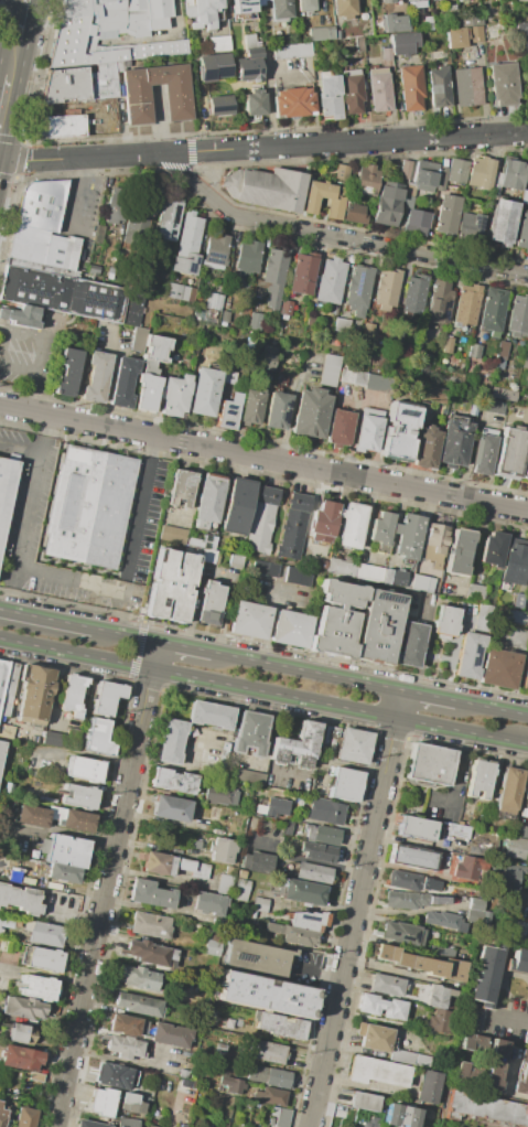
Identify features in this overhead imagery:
building: (387, 0)
building: (409, 0)
building: (517, 0)
building: (305, 6)
building: (72, 8)
building: (278, 8)
building: (343, 8)
building: (243, 10)
building: (416, 11)
building: (158, 13)
building: (203, 13)
building: (452, 15)
building: (527, 15)
road: (21, 18)
building: (108, 18)
building: (137, 18)
building: (470, 20)
building: (428, 21)
building: (394, 22)
building: (321, 33)
building: (521, 33)
building: (463, 35)
building: (71, 42)
building: (217, 43)
building: (403, 43)
building: (138, 51)
building: (292, 51)
building: (386, 54)
road: (13, 55)
building: (214, 66)
building: (249, 68)
building: (103, 80)
building: (504, 83)
building: (64, 86)
building: (439, 86)
building: (411, 87)
building: (467, 87)
road: (266, 89)
building: (379, 89)
building: (352, 90)
building: (328, 97)
road: (4, 98)
building: (294, 101)
building: (176, 103)
building: (254, 103)
building: (219, 105)
building: (58, 127)
road: (263, 148)
building: (403, 170)
building: (456, 170)
building: (341, 172)
building: (479, 173)
building: (508, 175)
building: (440, 178)
building: (365, 180)
building: (420, 180)
building: (527, 183)
building: (265, 189)
road: (77, 195)
building: (524, 196)
building: (333, 203)
building: (387, 204)
building: (116, 208)
building: (354, 213)
building: (446, 214)
building: (166, 221)
building: (414, 222)
building: (500, 222)
building: (137, 224)
building: (468, 229)
building: (41, 230)
building: (522, 232)
building: (98, 234)
road: (335, 236)
building: (108, 240)
building: (187, 244)
building: (215, 251)
building: (247, 260)
building: (91, 269)
building: (302, 273)
building: (273, 276)
building: (330, 281)
building: (386, 289)
building: (357, 290)
building: (179, 292)
building: (413, 294)
building: (65, 298)
building: (214, 301)
building: (439, 302)
building: (465, 304)
building: (285, 309)
building: (165, 311)
building: (492, 311)
building: (518, 316)
building: (224, 318)
building: (254, 321)
building: (231, 322)
building: (341, 326)
building: (166, 328)
building: (367, 329)
building: (461, 331)
road: (34, 333)
building: (394, 342)
building: (446, 345)
building: (473, 351)
building: (154, 353)
building: (500, 354)
building: (267, 359)
building: (526, 363)
building: (510, 365)
road: (19, 368)
building: (330, 369)
building: (67, 372)
building: (96, 377)
building: (228, 377)
building: (351, 377)
building: (122, 383)
building: (379, 384)
road: (33, 391)
building: (146, 391)
building: (203, 393)
building: (434, 394)
building: (503, 394)
building: (173, 396)
road: (357, 398)
road: (288, 405)
building: (489, 405)
building: (250, 407)
building: (277, 410)
building: (472, 411)
building: (310, 412)
building: (226, 415)
building: (338, 428)
building: (398, 431)
building: (366, 433)
road: (349, 436)
building: (454, 442)
road: (20, 446)
building: (425, 447)
building: (510, 451)
building: (482, 454)
road: (263, 458)
building: (526, 468)
building: (181, 486)
building: (7, 493)
road: (191, 495)
building: (207, 500)
building: (236, 505)
building: (89, 507)
parking lot: (147, 512)
road: (28, 513)
building: (261, 519)
building: (322, 522)
building: (351, 525)
building: (293, 526)
building: (395, 528)
building: (380, 530)
road: (363, 533)
road: (137, 535)
building: (172, 535)
building: (408, 536)
building: (202, 541)
building: (434, 546)
building: (492, 549)
building: (457, 551)
road: (468, 555)
building: (214, 558)
building: (235, 561)
building: (514, 562)
building: (340, 568)
building: (263, 569)
road: (215, 570)
building: (371, 572)
building: (297, 577)
building: (481, 577)
building: (395, 578)
road: (71, 580)
building: (422, 583)
building: (170, 586)
building: (527, 587)
road: (276, 590)
building: (474, 593)
road: (527, 595)
building: (518, 600)
building: (209, 604)
building: (496, 616)
road: (46, 619)
building: (334, 619)
building: (249, 620)
building: (445, 622)
road: (267, 625)
building: (378, 626)
building: (290, 629)
road: (125, 635)
road: (422, 638)
building: (409, 644)
road: (184, 646)
road: (136, 652)
road: (155, 655)
building: (467, 656)
building: (527, 657)
road: (518, 659)
building: (499, 669)
road: (305, 670)
building: (2, 675)
building: (525, 676)
road: (262, 691)
building: (35, 693)
building: (72, 695)
road: (428, 696)
building: (106, 697)
road: (399, 705)
road: (491, 708)
building: (209, 715)
building: (6, 731)
building: (250, 732)
building: (73, 736)
building: (98, 737)
building: (52, 738)
building: (35, 739)
road: (197, 739)
building: (330, 739)
building: (171, 741)
road: (527, 744)
building: (294, 747)
building: (353, 747)
building: (2, 751)
road: (93, 755)
building: (15, 759)
road: (311, 761)
road: (342, 762)
building: (429, 764)
road: (460, 766)
building: (85, 769)
building: (250, 777)
building: (478, 779)
building: (172, 781)
building: (345, 784)
building: (507, 790)
building: (220, 795)
building: (79, 796)
building: (45, 799)
building: (527, 804)
building: (272, 807)
building: (170, 808)
building: (325, 811)
building: (34, 815)
building: (74, 819)
building: (416, 828)
building: (457, 829)
building: (520, 831)
building: (322, 834)
building: (287, 842)
building: (515, 847)
building: (63, 849)
building: (222, 850)
building: (316, 851)
building: (412, 857)
road: (314, 859)
building: (257, 862)
building: (158, 863)
building: (193, 868)
building: (466, 868)
building: (230, 870)
road: (416, 870)
building: (313, 872)
building: (62, 873)
building: (508, 876)
road: (170, 879)
building: (407, 881)
building: (281, 882)
building: (224, 884)
building: (453, 884)
building: (240, 890)
building: (303, 892)
road: (518, 892)
building: (150, 894)
building: (437, 895)
road: (104, 898)
building: (20, 899)
building: (405, 900)
building: (211, 903)
building: (260, 904)
road: (407, 910)
building: (475, 911)
building: (309, 921)
building: (444, 921)
building: (4, 922)
road: (352, 923)
building: (149, 924)
building: (45, 933)
building: (402, 933)
building: (292, 934)
building: (211, 946)
building: (441, 951)
building: (150, 953)
building: (255, 957)
building: (44, 959)
building: (518, 962)
building: (422, 964)
road: (315, 970)
building: (486, 974)
building: (138, 978)
building: (387, 985)
building: (39, 987)
building: (266, 995)
building: (440, 996)
building: (137, 1005)
building: (380, 1007)
building: (23, 1008)
road: (507, 1019)
building: (439, 1021)
building: (122, 1024)
building: (280, 1026)
building: (18, 1033)
building: (170, 1035)
building: (473, 1043)
building: (387, 1044)
building: (125, 1048)
building: (267, 1052)
building: (21, 1058)
road: (128, 1061)
building: (493, 1065)
building: (375, 1071)
building: (461, 1071)
building: (182, 1073)
building: (256, 1073)
building: (115, 1075)
building: (522, 1075)
building: (196, 1078)
building: (277, 1078)
building: (233, 1085)
building: (429, 1087)
road: (379, 1088)
building: (269, 1096)
building: (136, 1101)
building: (364, 1102)
building: (103, 1103)
building: (487, 1108)
building: (395, 1115)
building: (280, 1116)
building: (1, 1117)
building: (24, 1117)
building: (411, 1117)
building: (127, 1123)
building: (89, 1124)
building: (182, 1124)
building: (149, 1126)

